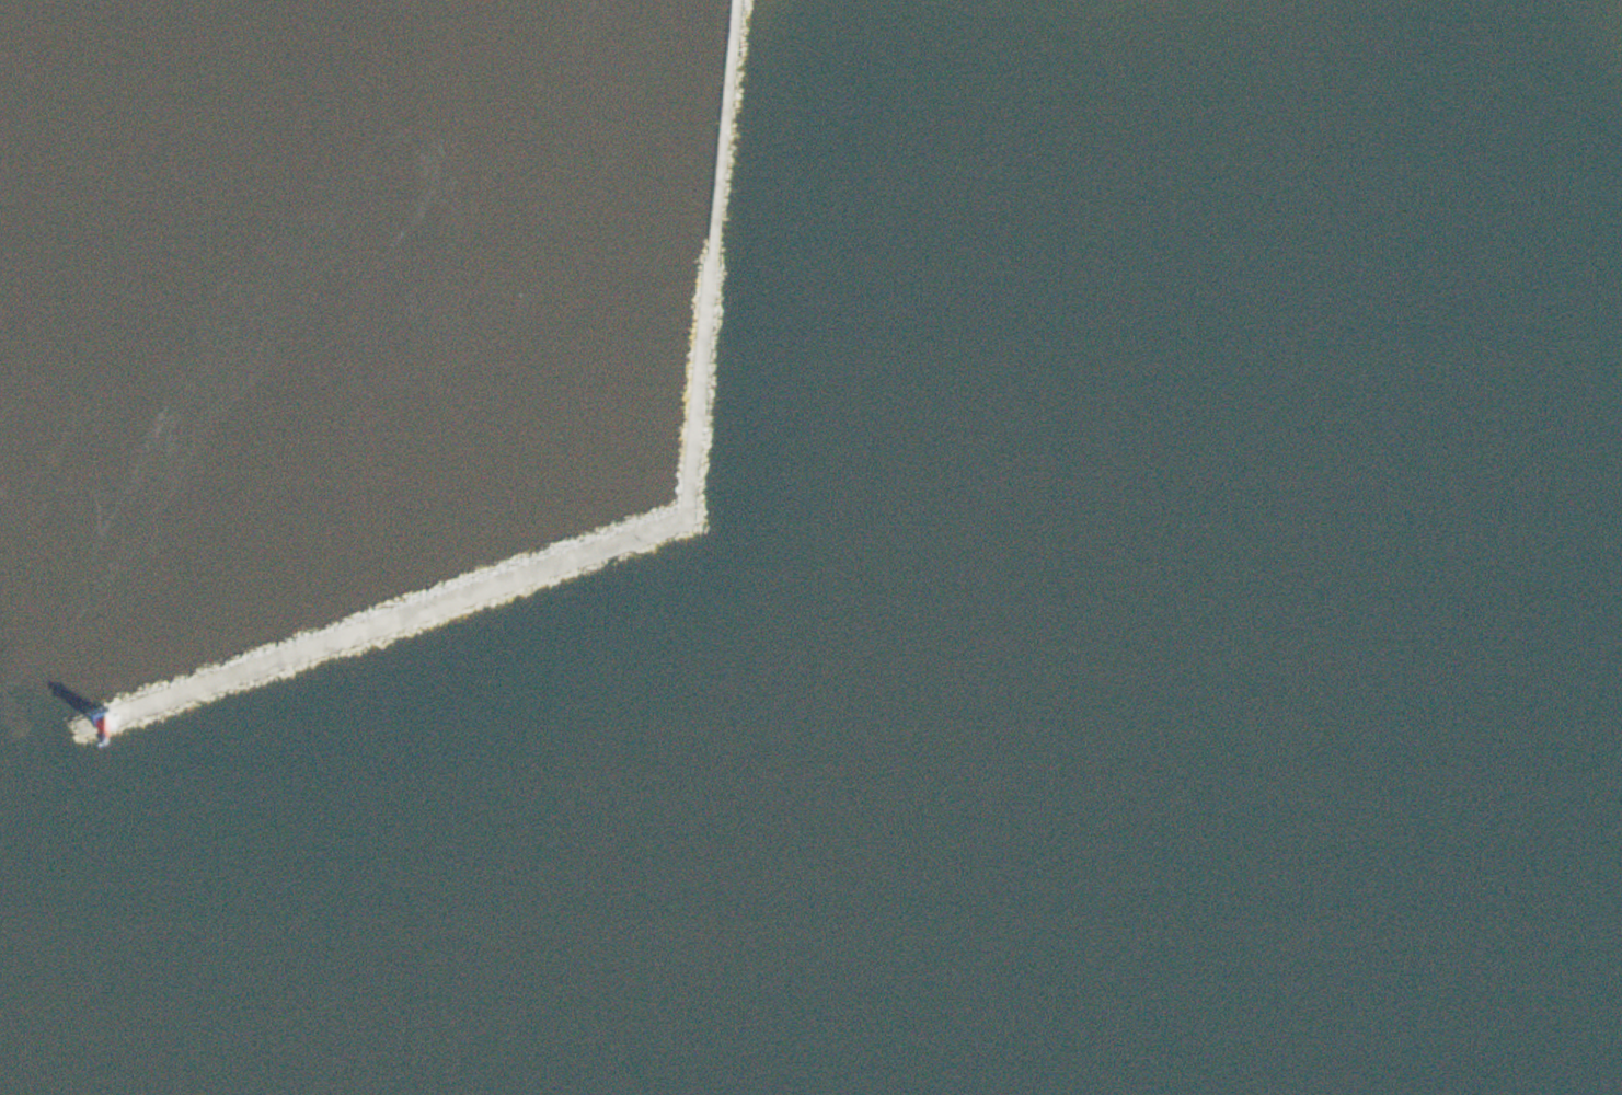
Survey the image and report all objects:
park: (714, 245)
road: (646, 528)
lighthouse: (101, 717)

